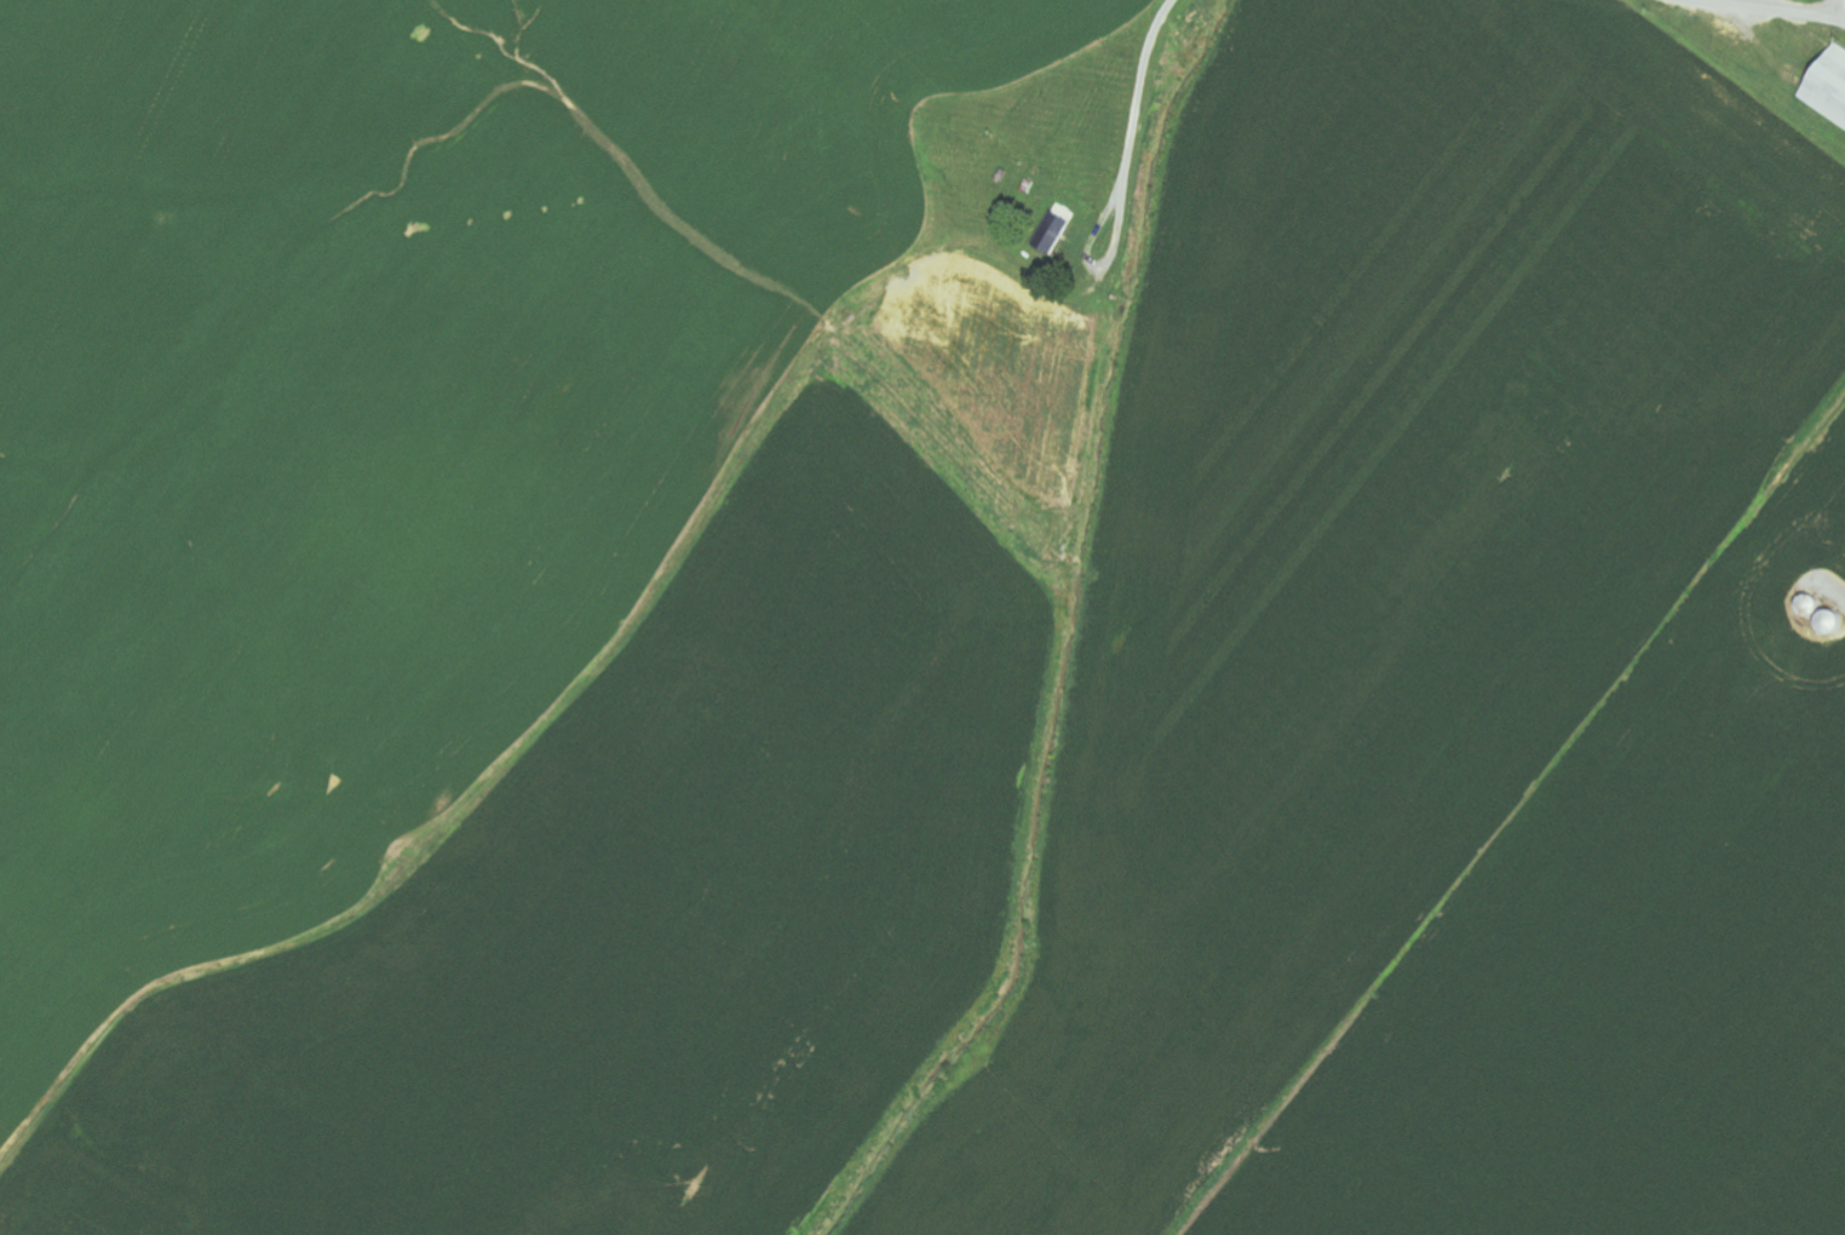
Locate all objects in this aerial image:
building: (1827, 86)

